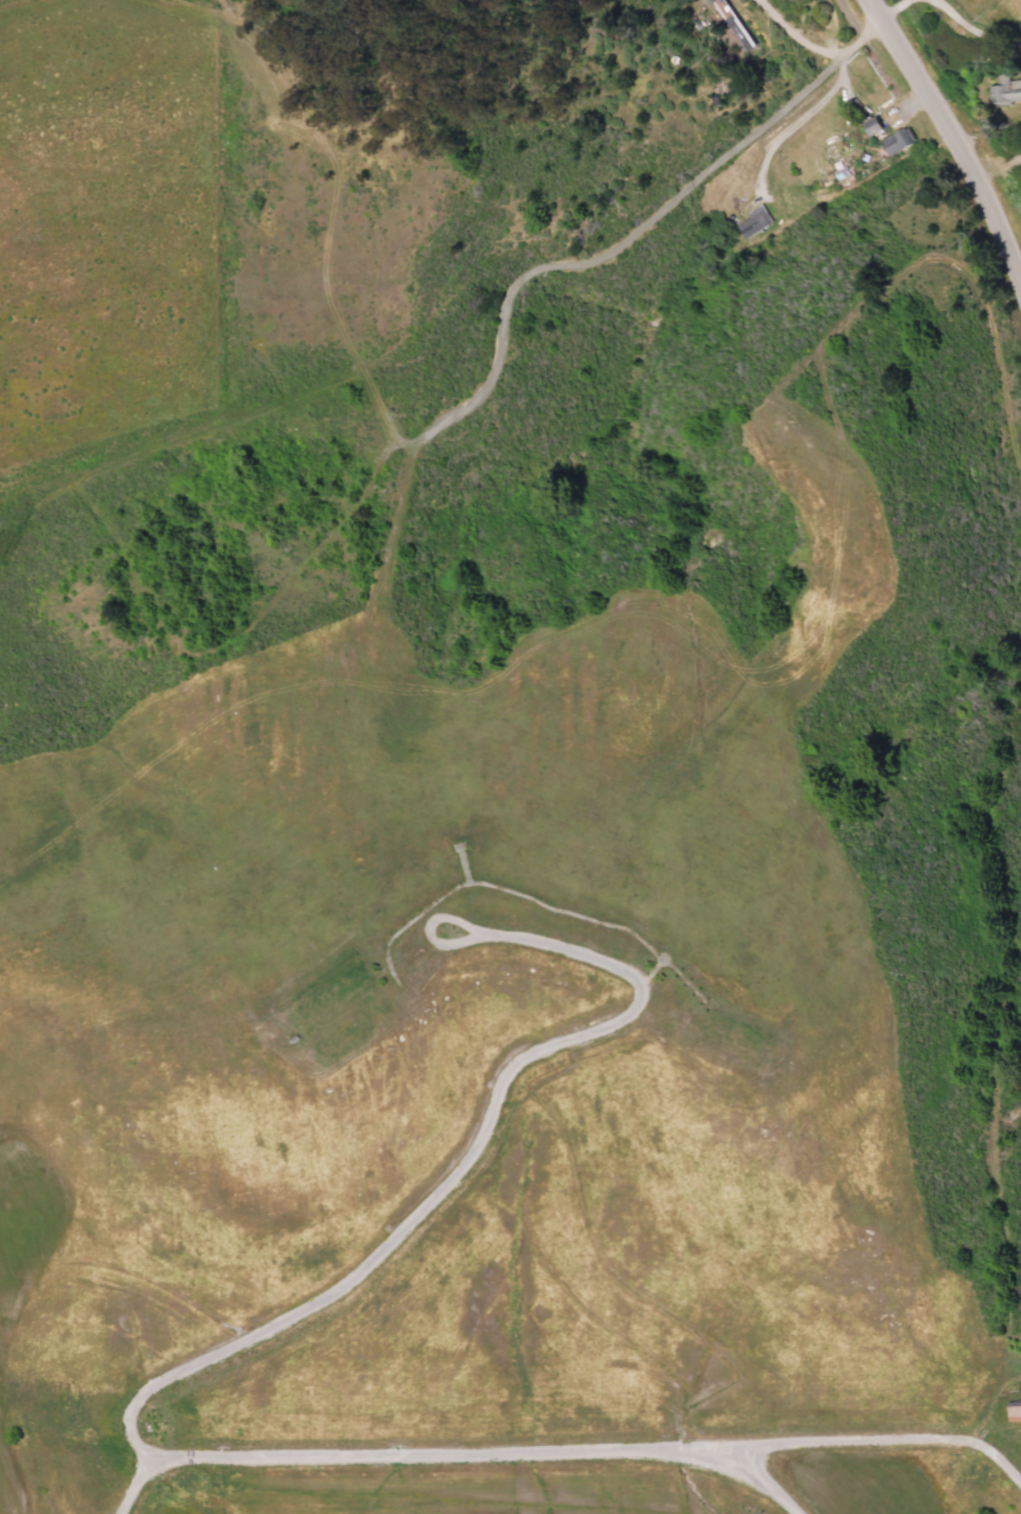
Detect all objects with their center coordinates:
building: (732, 24)
building: (1005, 90)
building: (870, 125)
building: (896, 141)
road: (950, 151)
building: (752, 220)
road: (436, 929)
road: (70, 1157)
road: (189, 1362)
road: (884, 1441)
road: (141, 1484)

